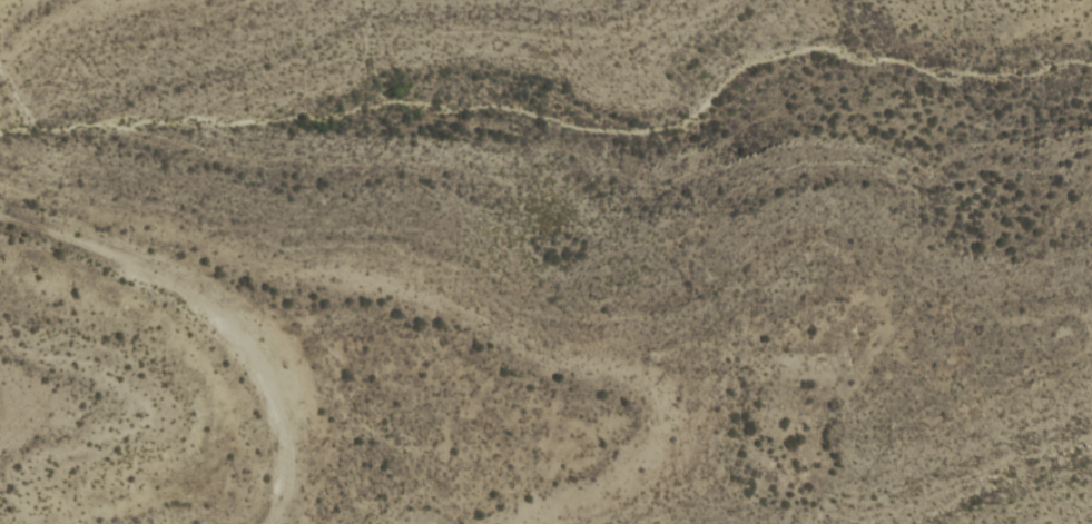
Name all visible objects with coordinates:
park: (524, 277)
road: (215, 314)

